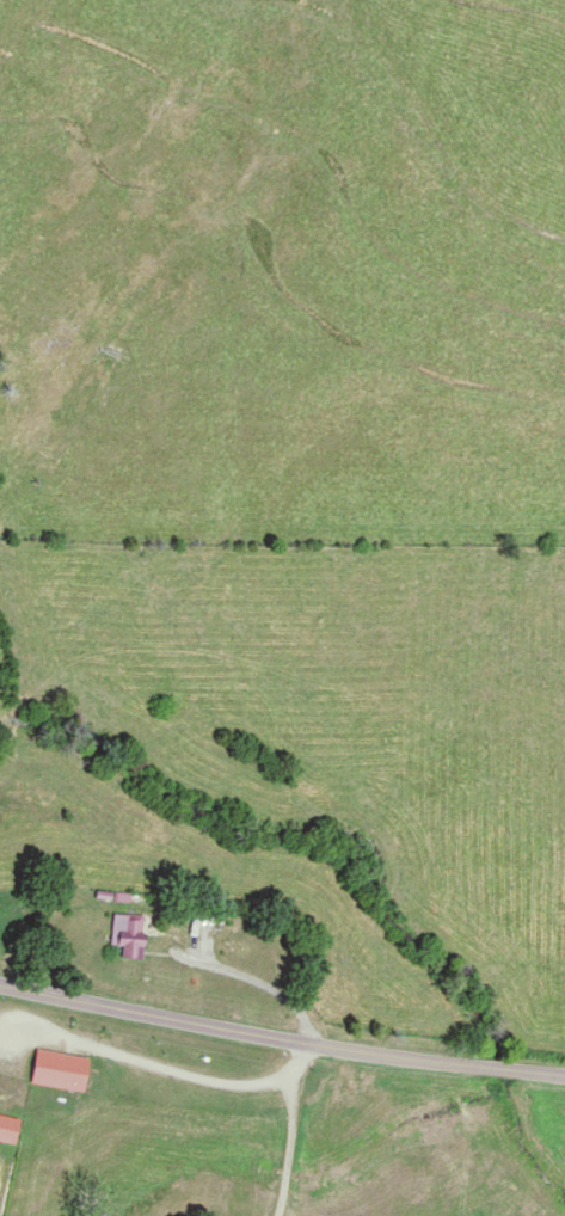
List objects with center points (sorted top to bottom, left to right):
building: (127, 934)
road: (281, 1038)
building: (60, 1070)
building: (8, 1129)

